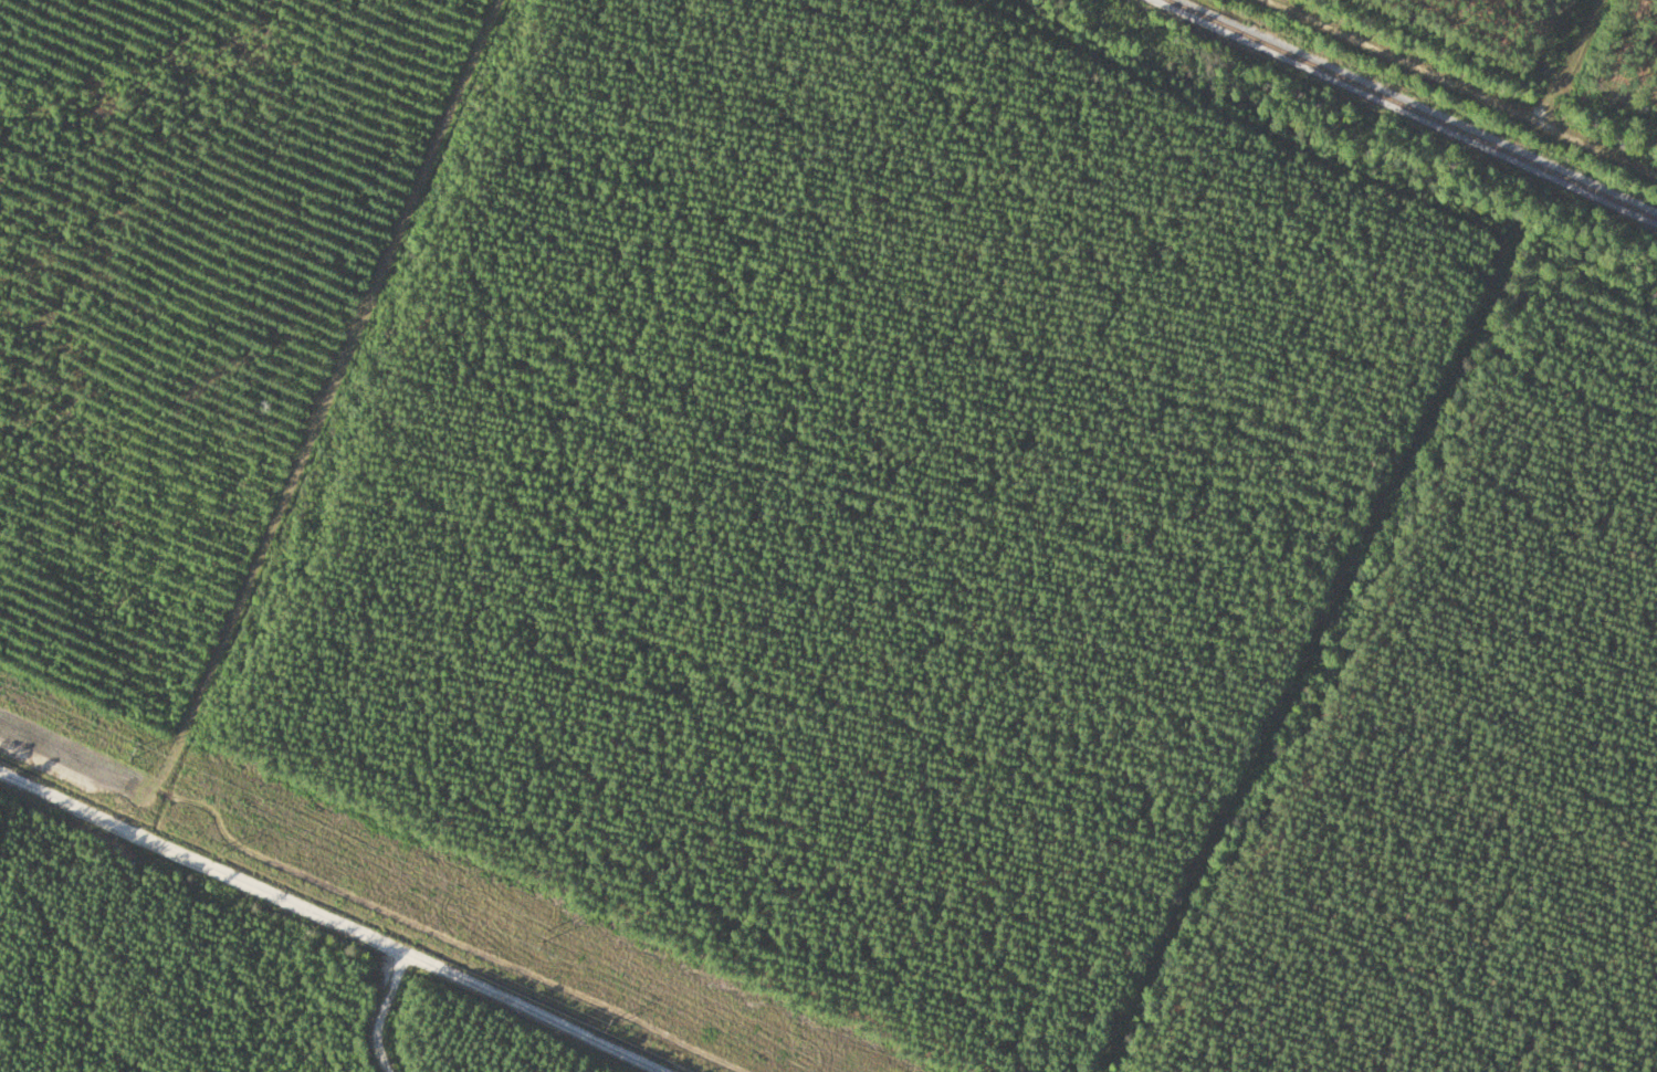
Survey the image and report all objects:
railway: (1417, 107)
power tower: (125, 753)
power tower: (221, 852)
power tower: (531, 933)
power tower: (608, 1026)

